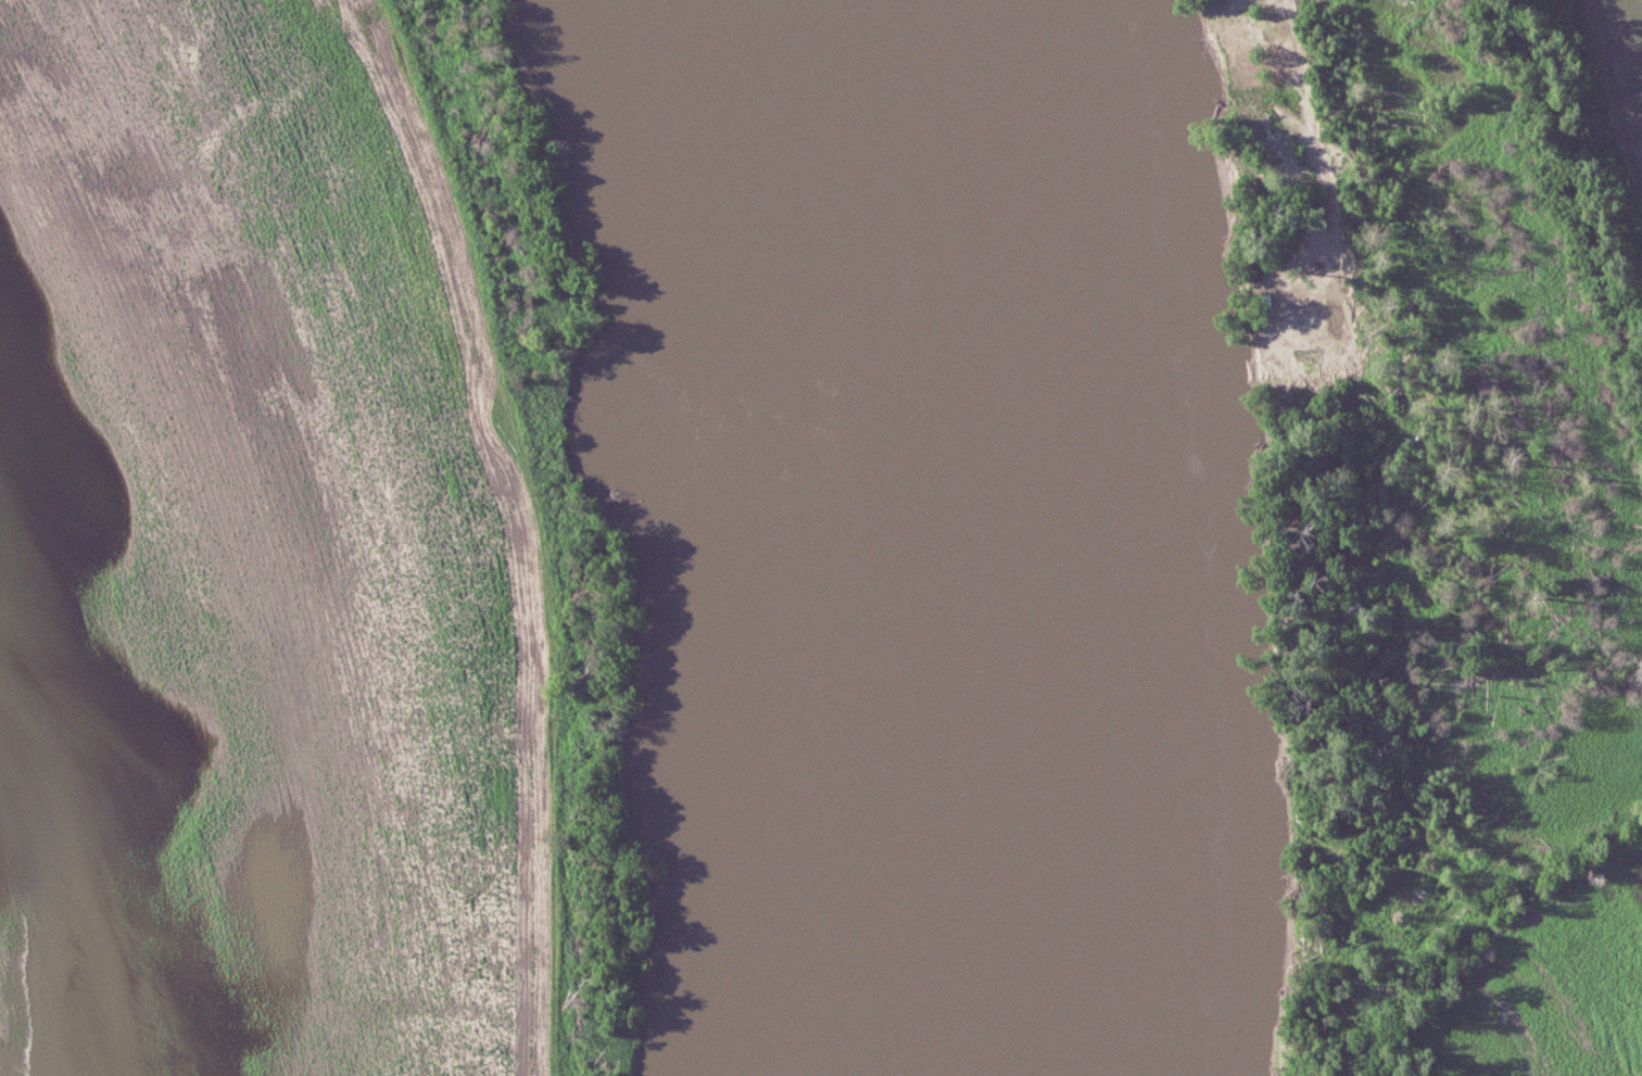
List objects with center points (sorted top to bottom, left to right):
river: (931, 537)

